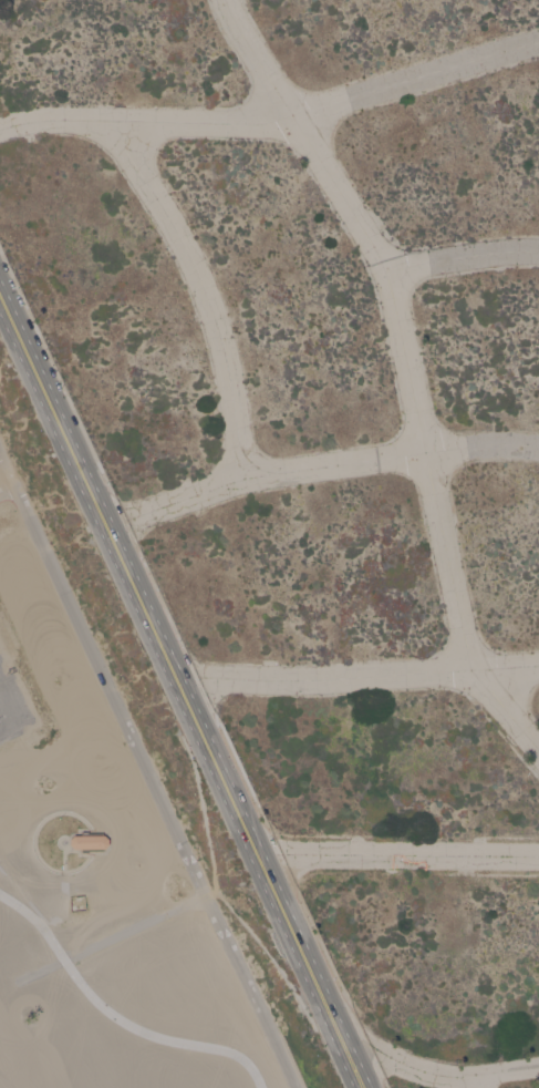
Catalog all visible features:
road: (274, 120)
road: (462, 258)
road: (203, 288)
road: (407, 366)
road: (53, 411)
road: (318, 465)
road: (6, 478)
road: (142, 605)
road: (357, 677)
road: (9, 701)
parking lot: (13, 705)
road: (9, 727)
road: (148, 770)
road: (217, 771)
road: (201, 805)
road: (39, 830)
road: (63, 839)
building: (89, 842)
road: (397, 854)
road: (66, 859)
road: (211, 892)
road: (24, 896)
road: (66, 904)
road: (136, 926)
road: (301, 953)
road: (276, 961)
road: (115, 1016)
road: (354, 1067)
road: (439, 1074)
road: (481, 1081)

